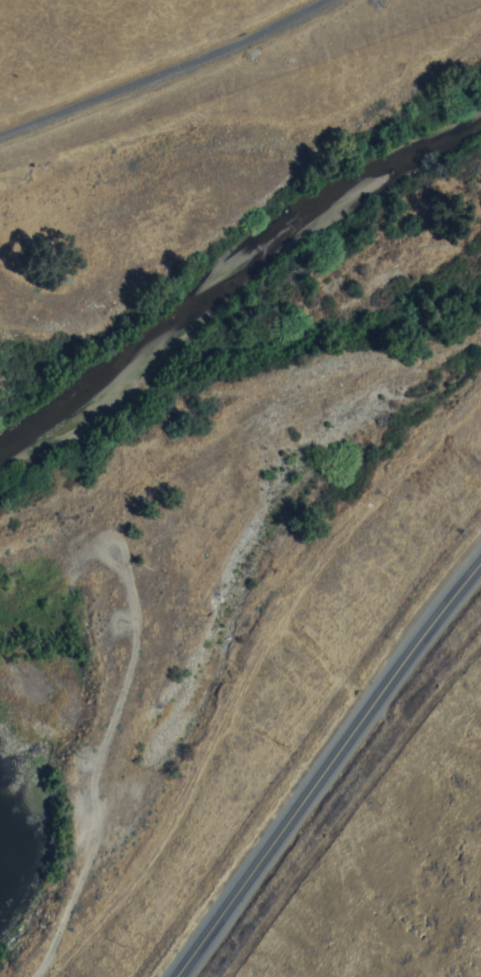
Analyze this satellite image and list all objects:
road: (161, 69)
river: (233, 275)
road: (323, 767)
road: (40, 964)

